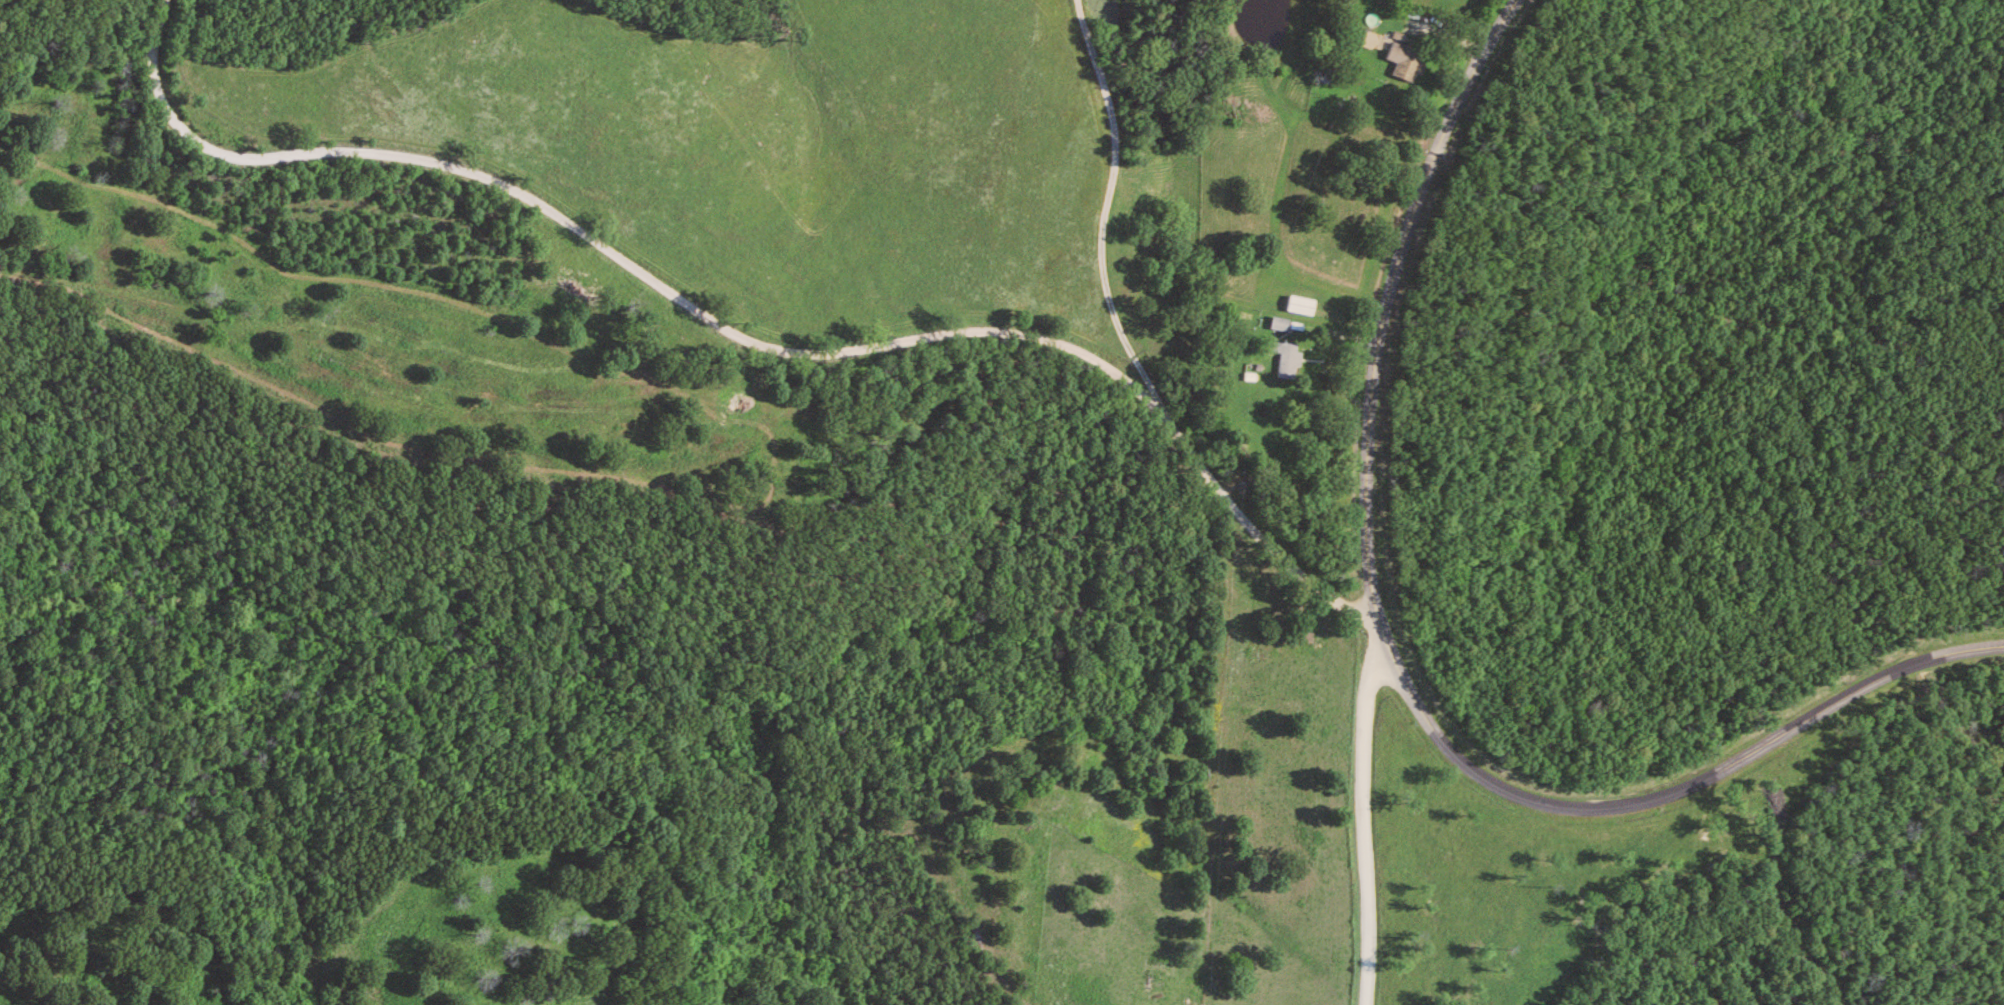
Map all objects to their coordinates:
building: (1374, 42)
building: (1409, 61)
road: (1110, 214)
road: (737, 334)
building: (1290, 358)
road: (1396, 667)
road: (1368, 827)

